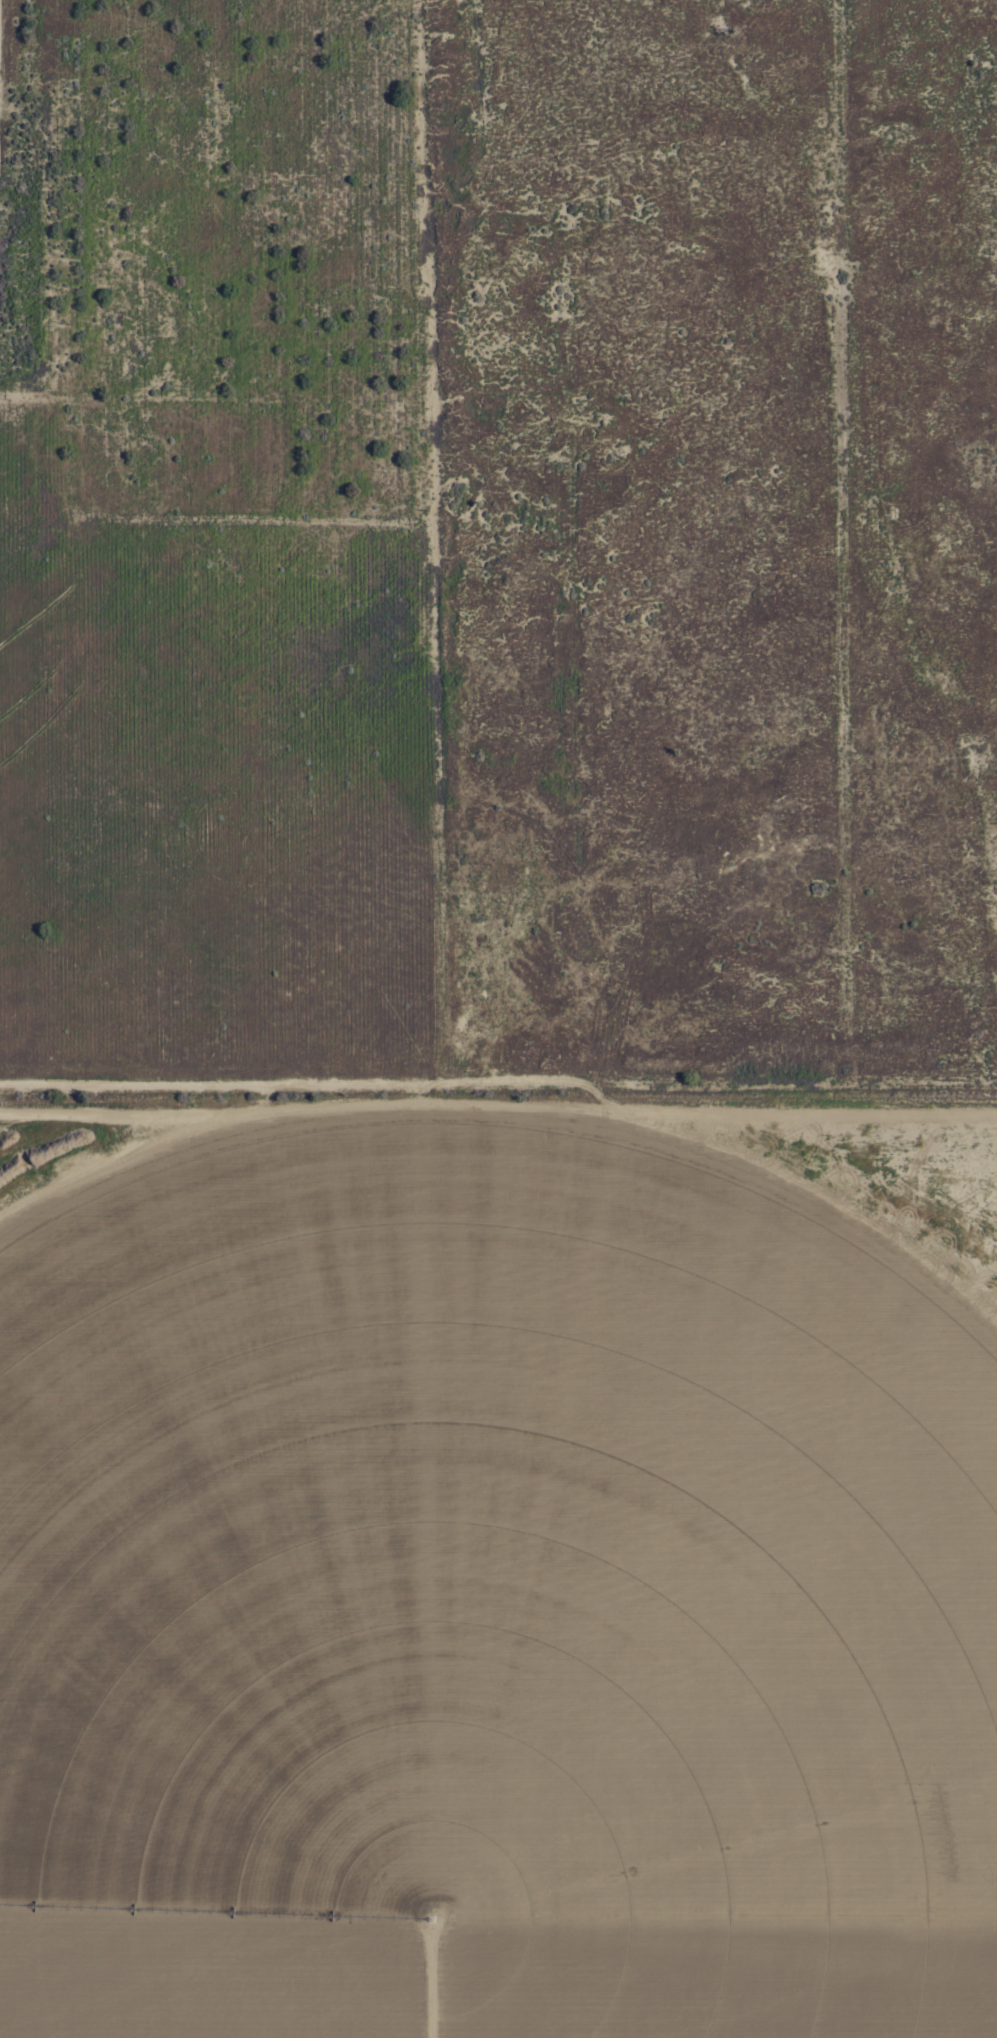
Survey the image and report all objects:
crop: (408, 1211)

